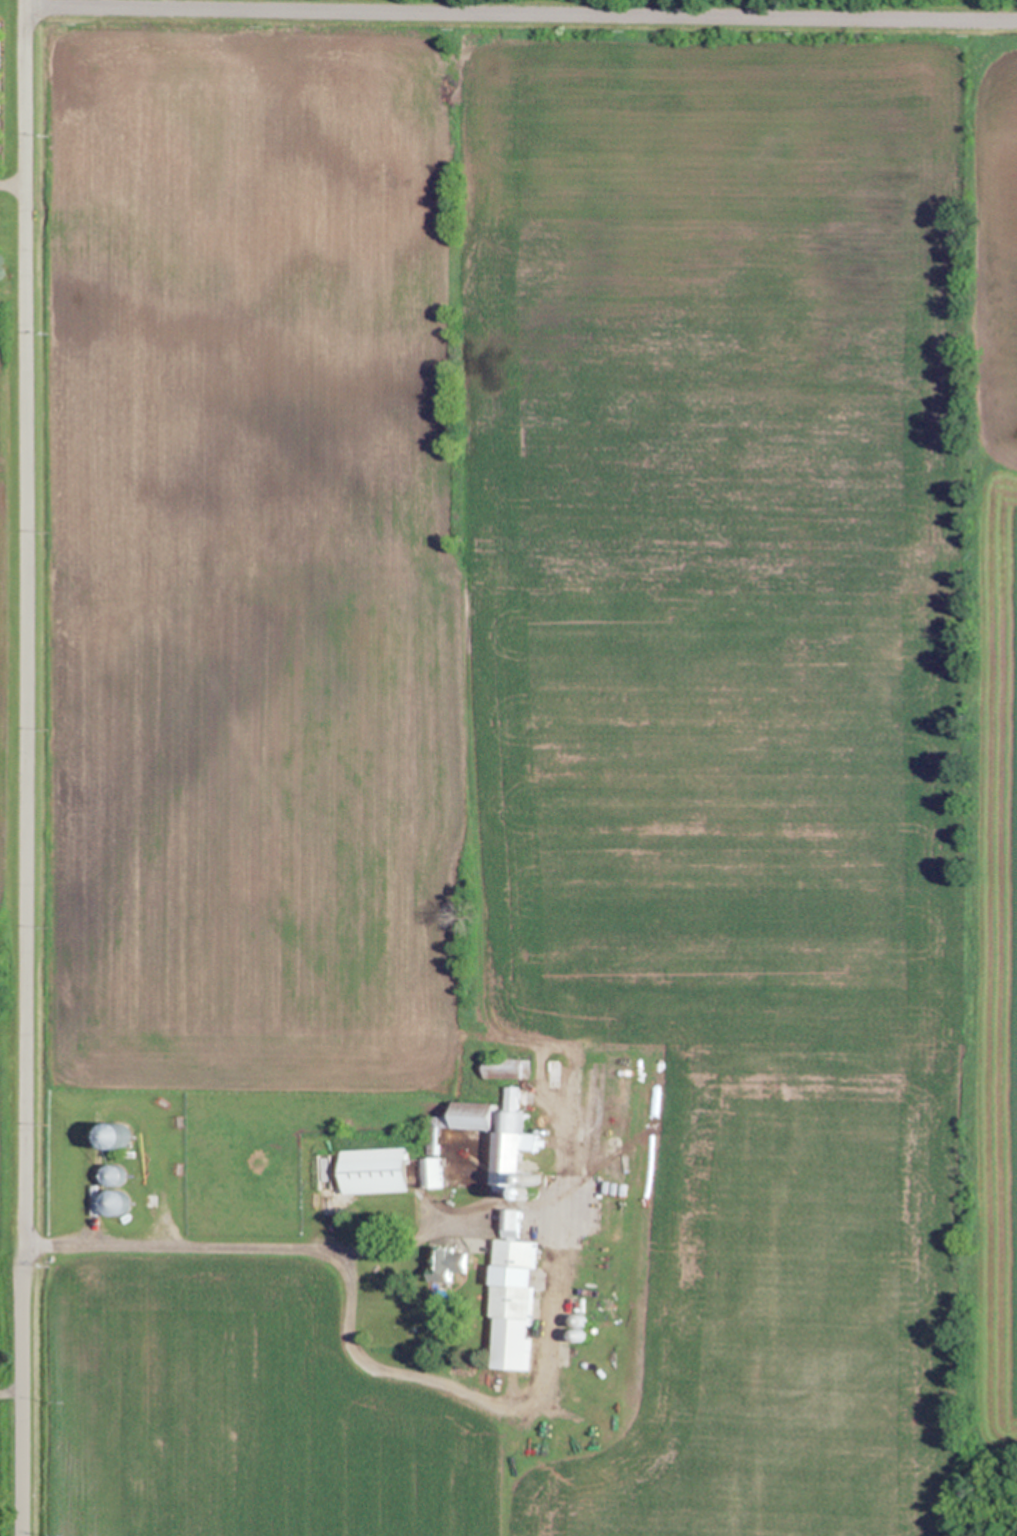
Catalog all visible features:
road: (519, 12)
road: (11, 183)
road: (23, 768)
building: (507, 1067)
building: (108, 1136)
building: (120, 1136)
building: (518, 1141)
building: (378, 1170)
building: (321, 1172)
building: (433, 1172)
building: (115, 1174)
building: (539, 1179)
building: (535, 1192)
building: (116, 1202)
road: (410, 1230)
building: (448, 1263)
building: (449, 1285)
building: (515, 1296)
building: (580, 1320)
building: (578, 1335)
road: (363, 1345)

